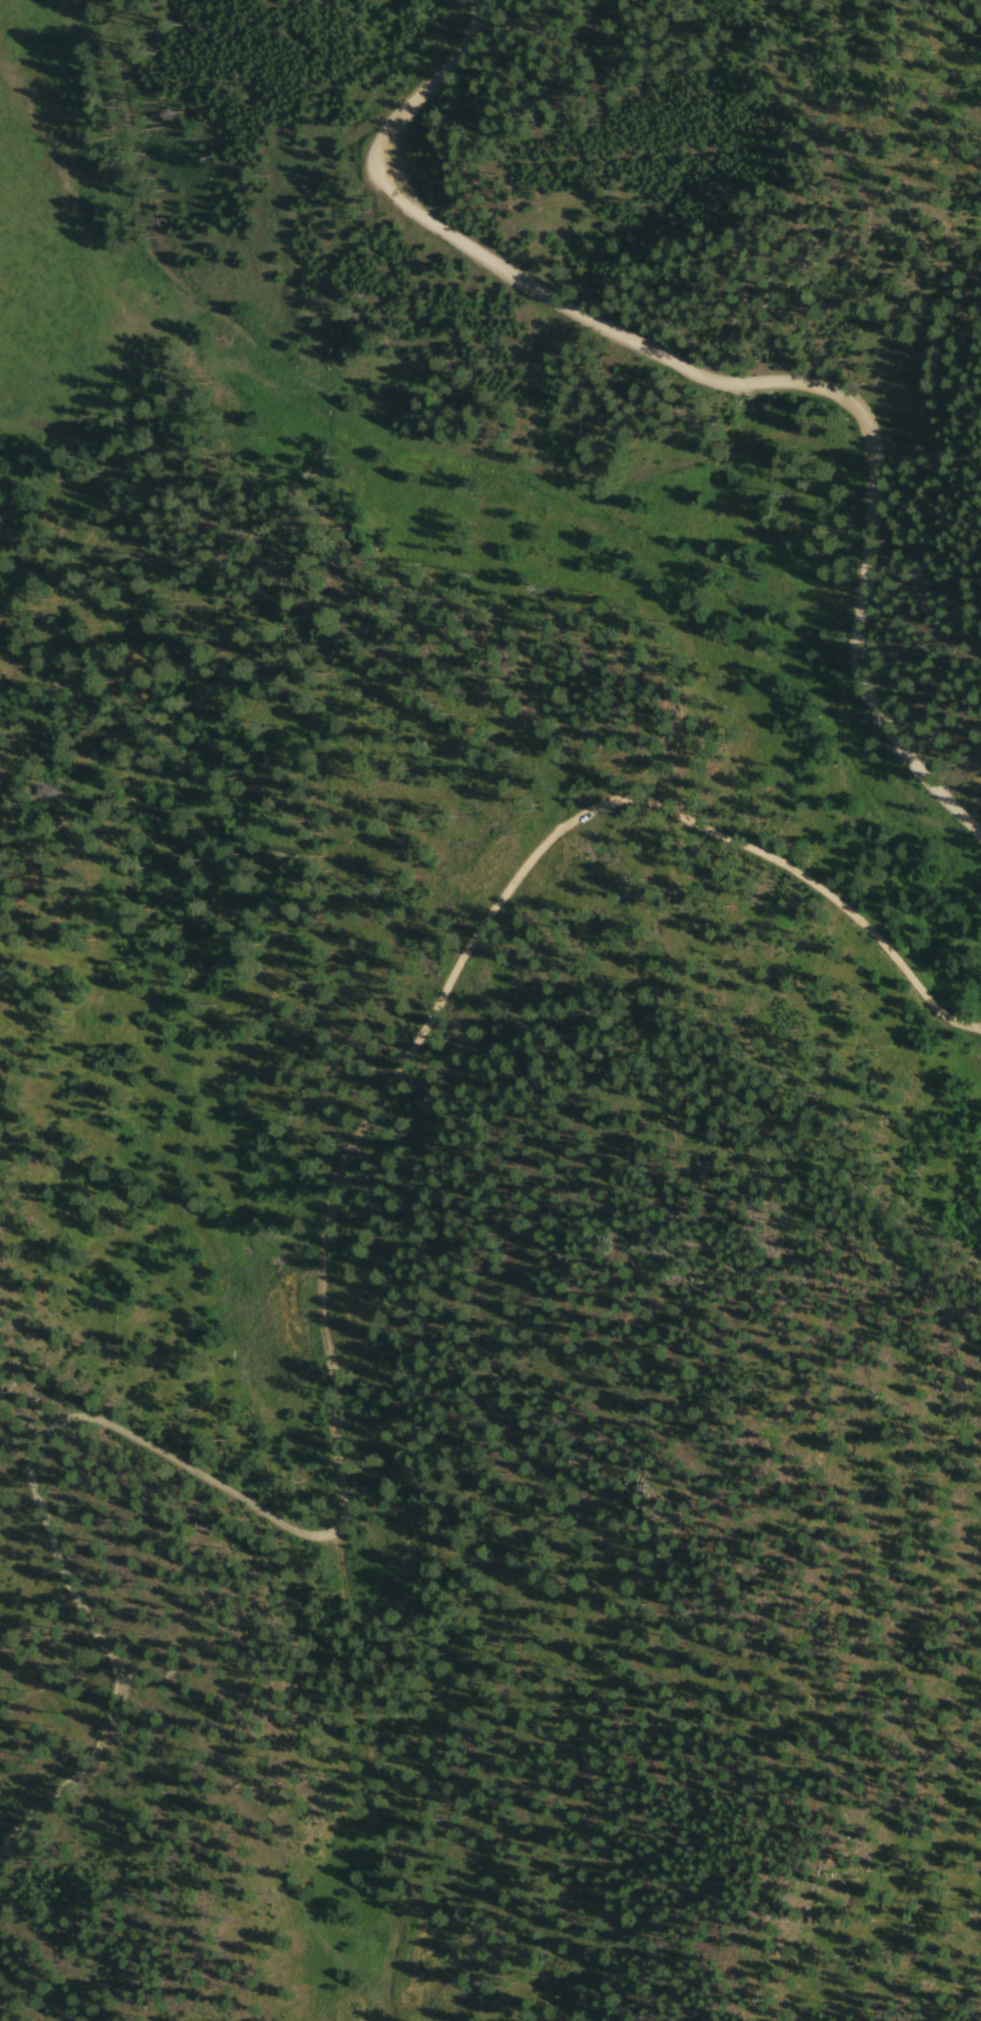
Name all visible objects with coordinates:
road: (613, 196)
road: (721, 386)
road: (405, 1058)
road: (452, 1333)
road: (91, 1625)
road: (32, 1989)

